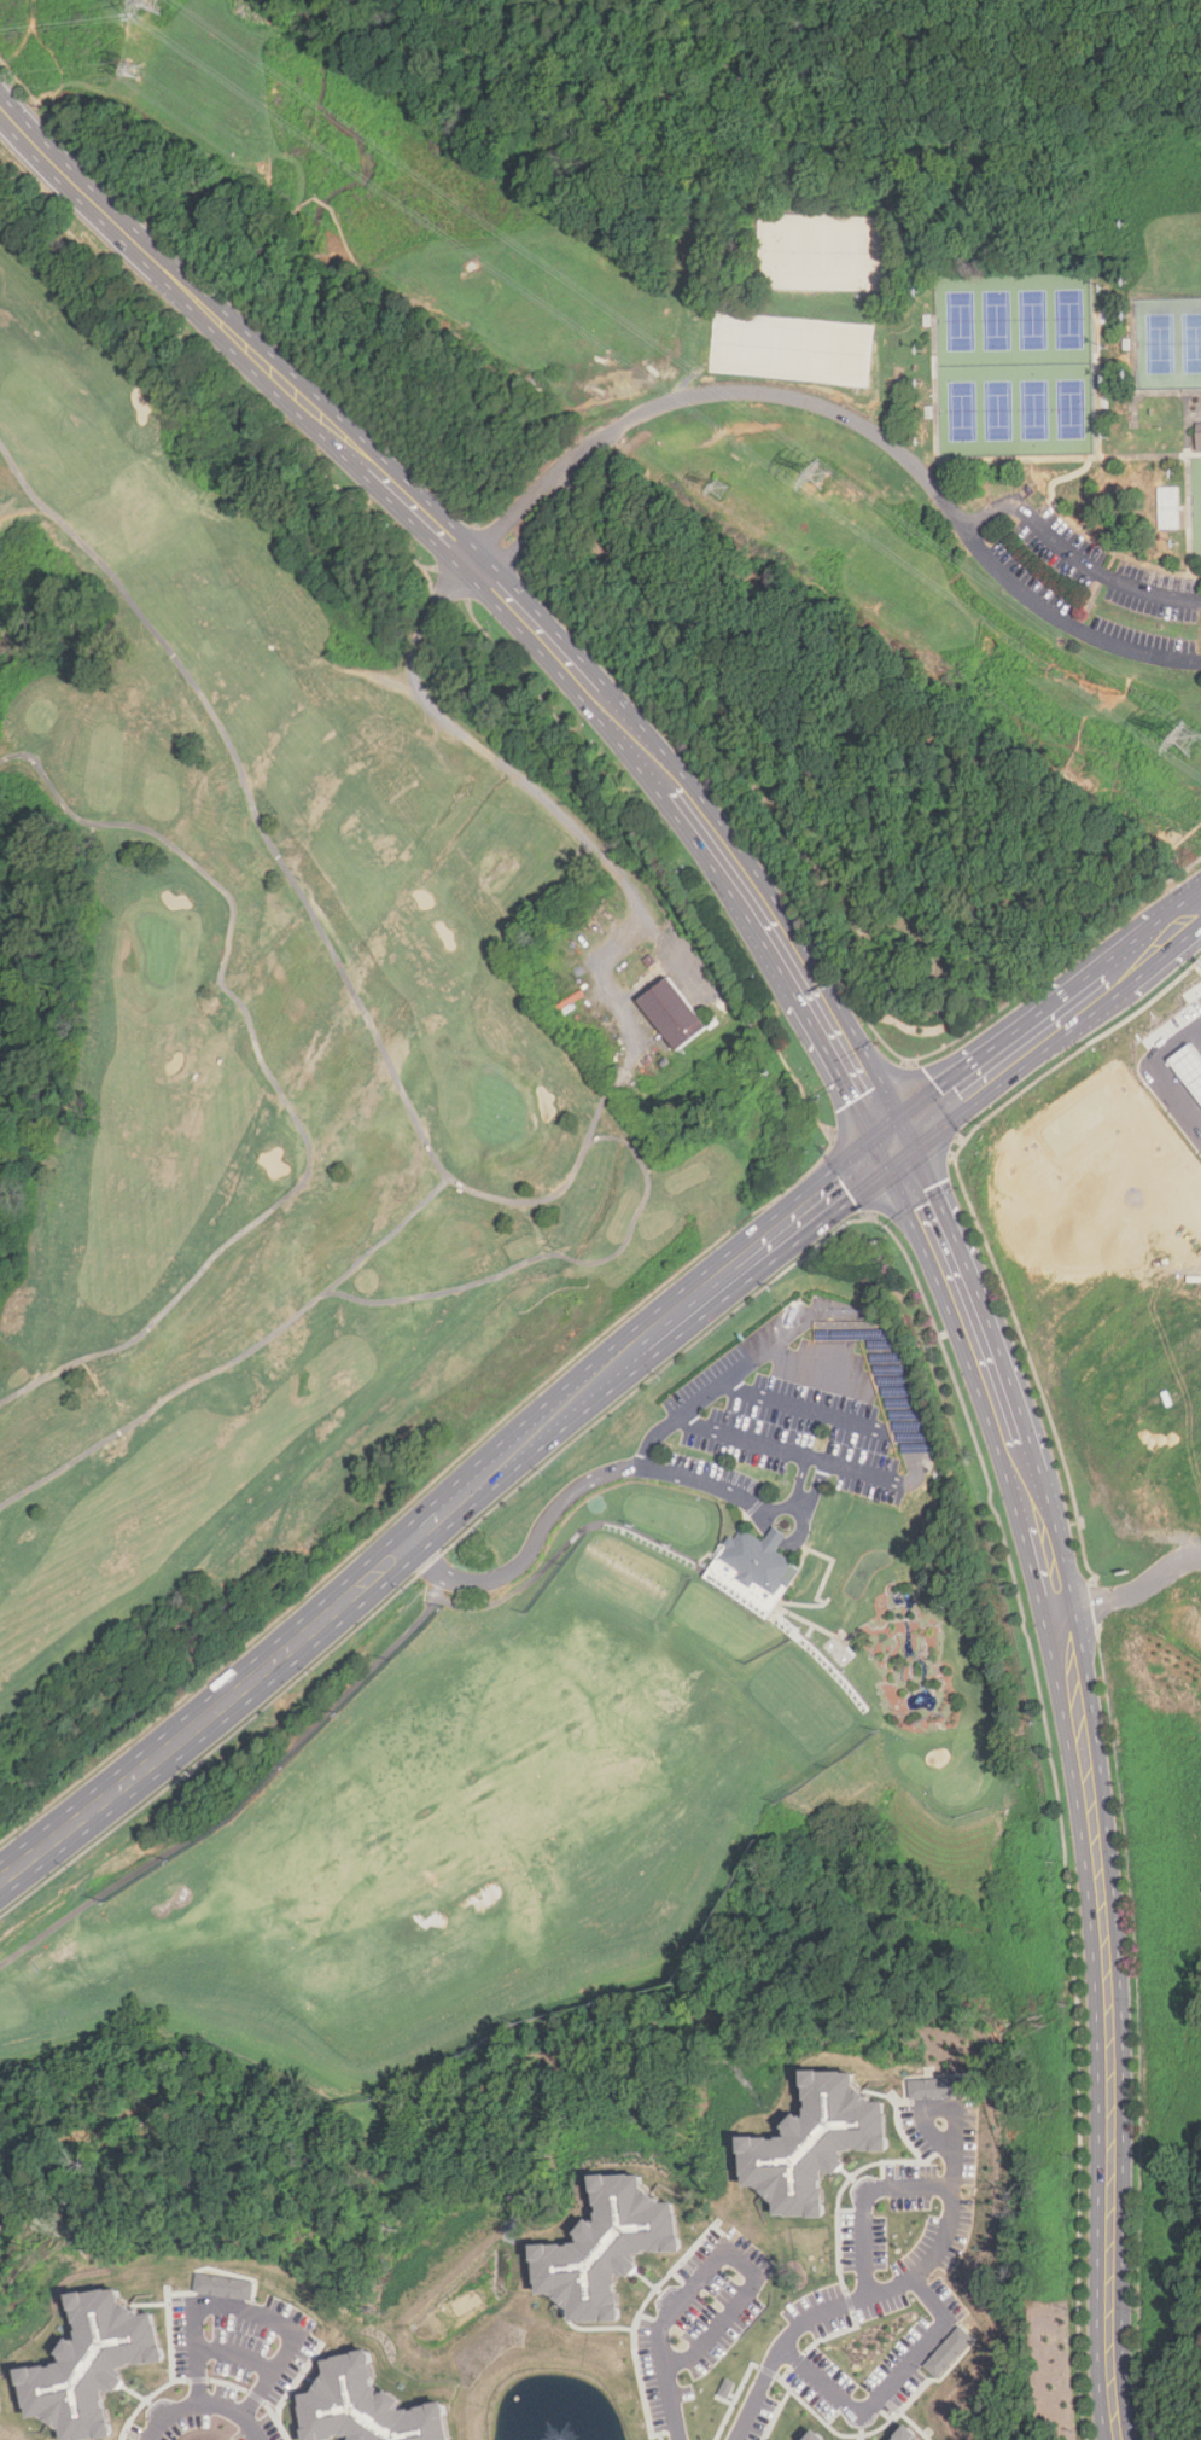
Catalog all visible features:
power tower: (145, 0)
road: (873, 42)
road: (643, 43)
power tower: (129, 70)
road: (81, 185)
park: (776, 252)
park: (809, 252)
park: (838, 254)
park: (868, 254)
park: (1168, 269)
park: (997, 319)
park: (1032, 319)
park: (1068, 319)
park: (961, 320)
park: (1191, 342)
park: (1160, 343)
park: (729, 344)
park: (759, 347)
park: (789, 350)
park: (820, 353)
park: (851, 355)
road: (1132, 379)
road: (1097, 385)
road: (589, 388)
park: (763, 389)
road: (713, 392)
park: (1034, 409)
park: (1069, 409)
park: (962, 410)
park: (997, 410)
building: (1197, 436)
road: (946, 459)
power tower: (820, 474)
road: (1187, 482)
power tower: (715, 484)
road: (525, 501)
road: (1053, 503)
road: (27, 509)
road: (967, 532)
parking lot: (1097, 592)
power tower: (1188, 736)
road: (541, 786)
road: (307, 898)
park: (150, 950)
road: (610, 992)
building: (684, 1006)
park: (311, 1017)
building: (1189, 1066)
road: (274, 1081)
park: (500, 1114)
traffic signals: (893, 1137)
road: (937, 1223)
road: (554, 1257)
road: (235, 1359)
road: (890, 1384)
road: (597, 1385)
road: (816, 1458)
road: (801, 1475)
road: (817, 1480)
road: (585, 1484)
road: (424, 1490)
road: (433, 1559)
building: (753, 1568)
road: (1133, 1591)
building: (937, 2087)
building: (815, 2143)
road: (862, 2203)
road: (945, 2224)
building: (608, 2247)
road: (733, 2254)
building: (225, 2287)
road: (243, 2310)
road: (780, 2346)
building: (946, 2351)
road: (233, 2352)
building: (93, 2364)
road: (887, 2384)
building: (728, 2388)
road: (208, 2400)
road: (675, 2405)
building: (365, 2406)
building: (906, 2434)
building: (815, 2436)

